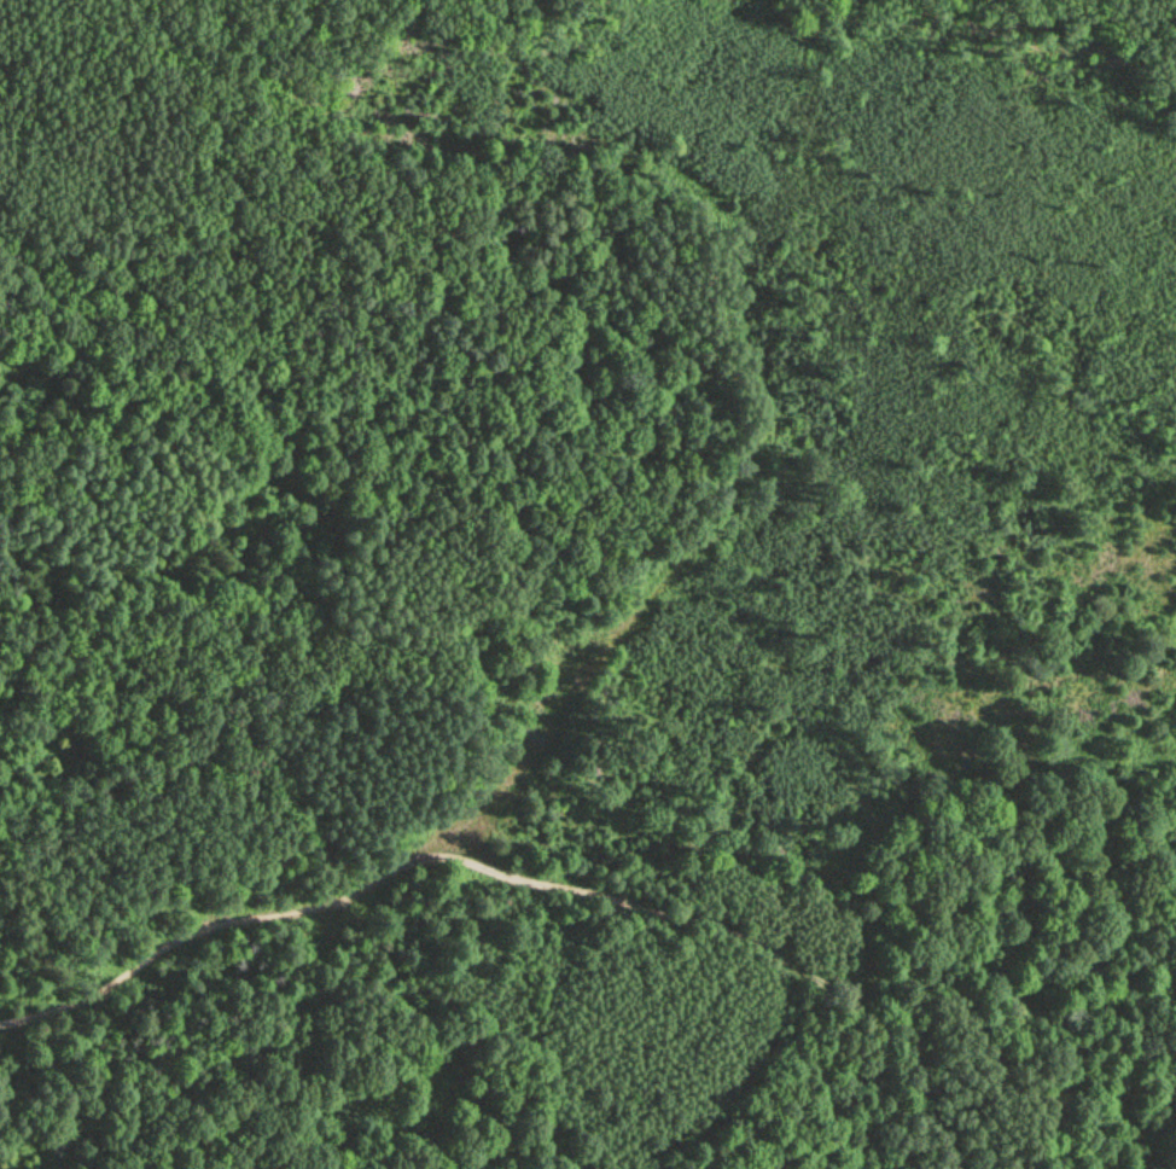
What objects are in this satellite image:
road: (204, 401)
road: (528, 876)
road: (33, 1134)

